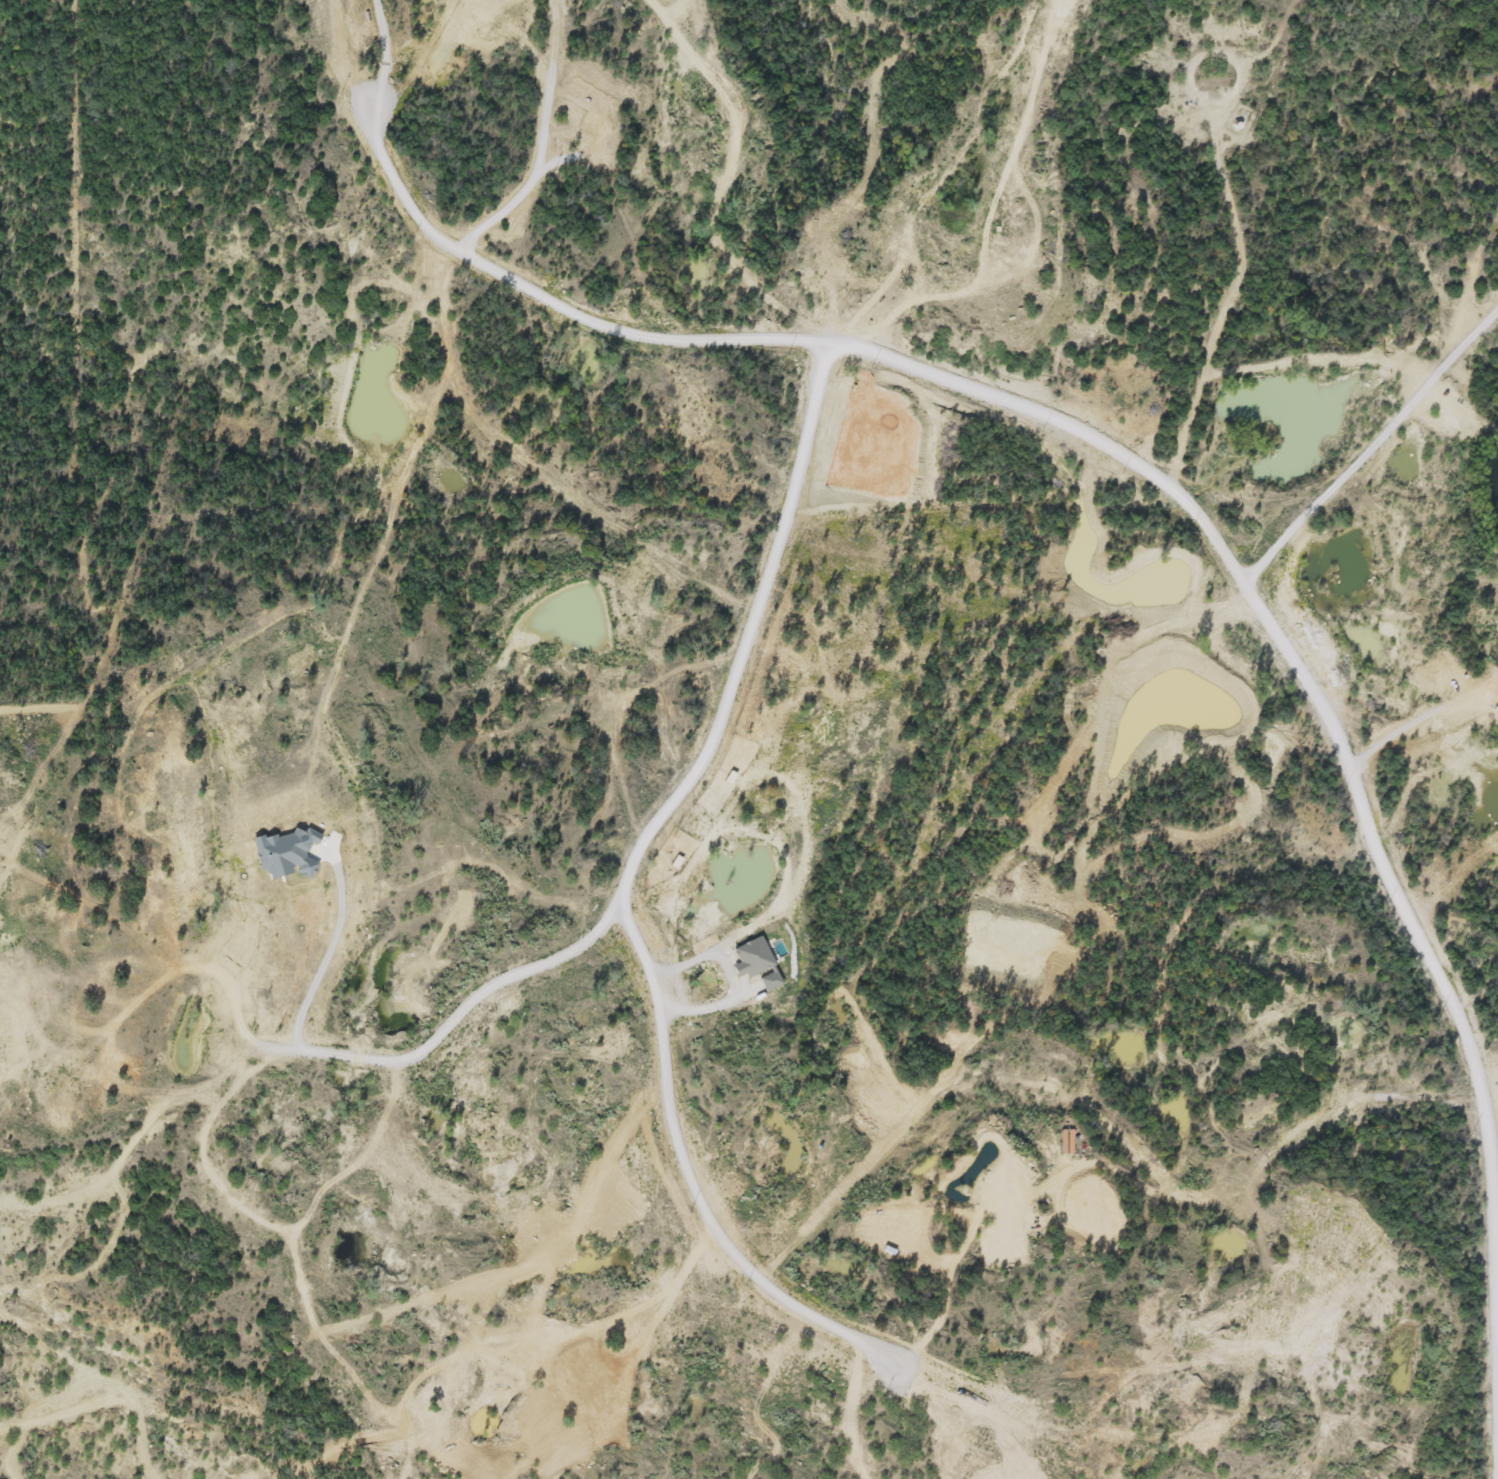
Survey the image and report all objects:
road: (384, 52)
road: (1372, 448)
road: (1124, 455)
road: (625, 893)
road: (733, 977)
road: (387, 1066)

